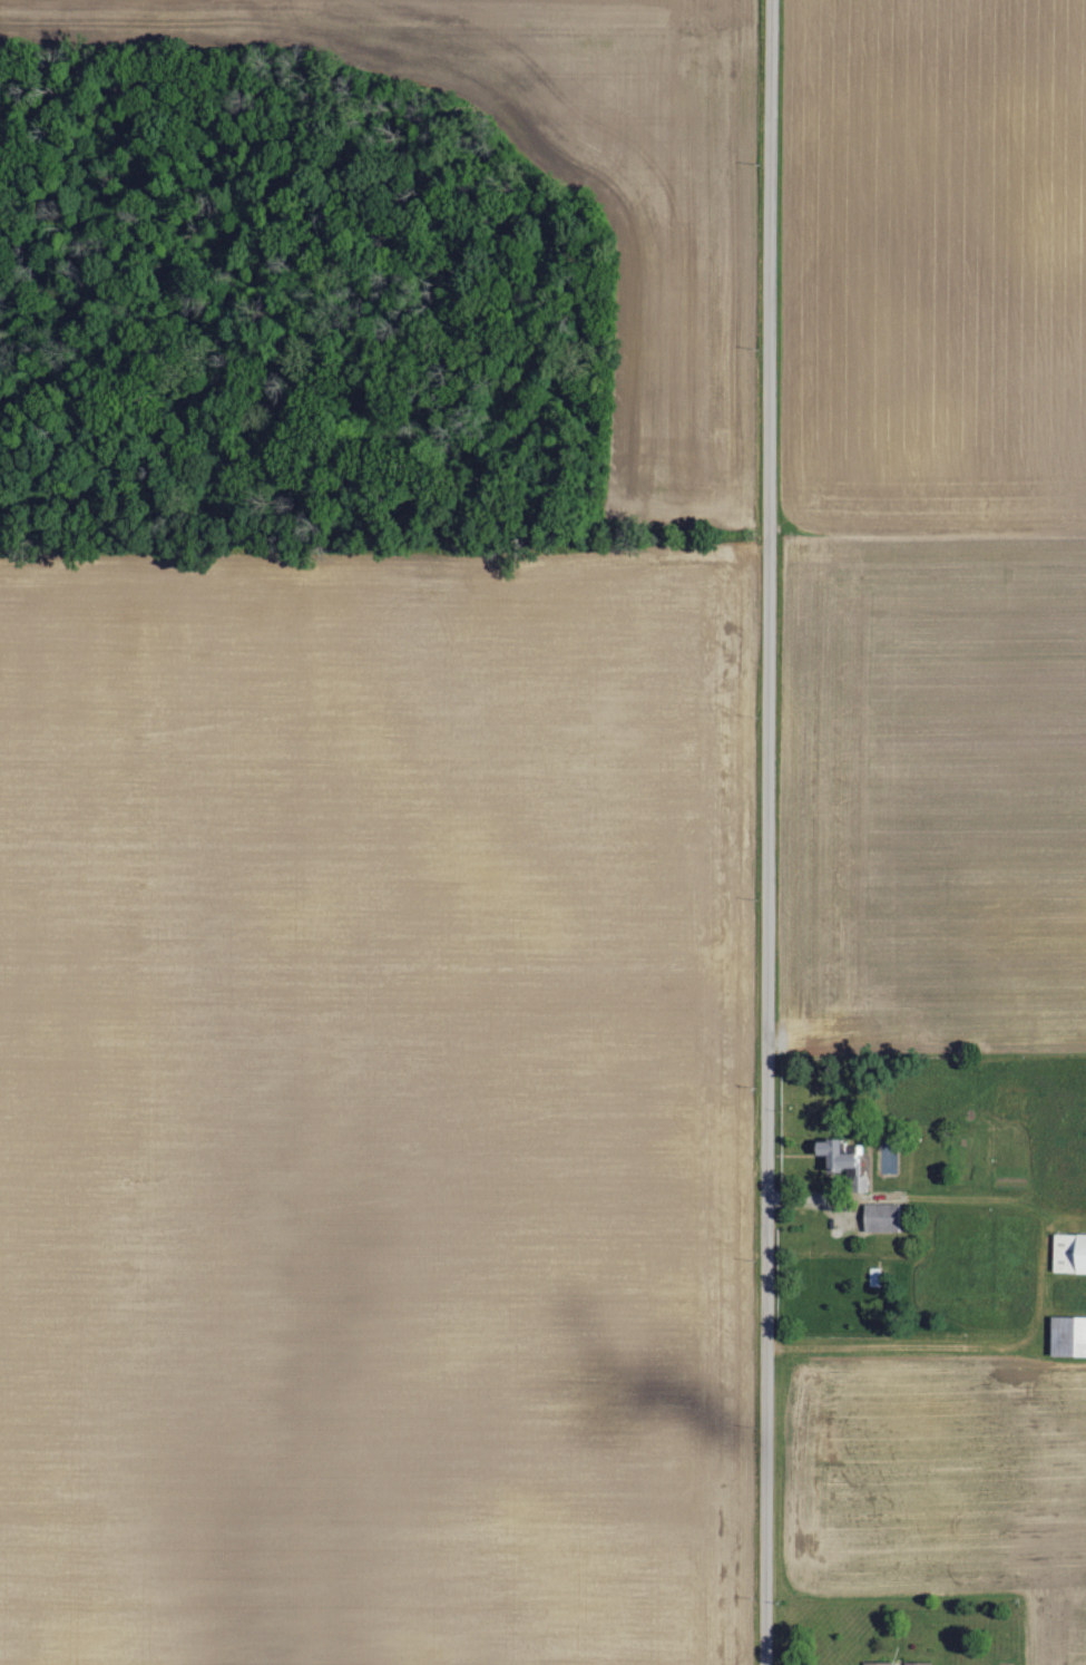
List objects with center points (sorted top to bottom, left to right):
crop: (931, 524)
road: (773, 833)
building: (841, 1157)
building: (882, 1217)
building: (1070, 1253)
building: (874, 1276)
building: (1070, 1336)
crop: (940, 1480)
building: (879, 1664)
building: (917, 1664)

